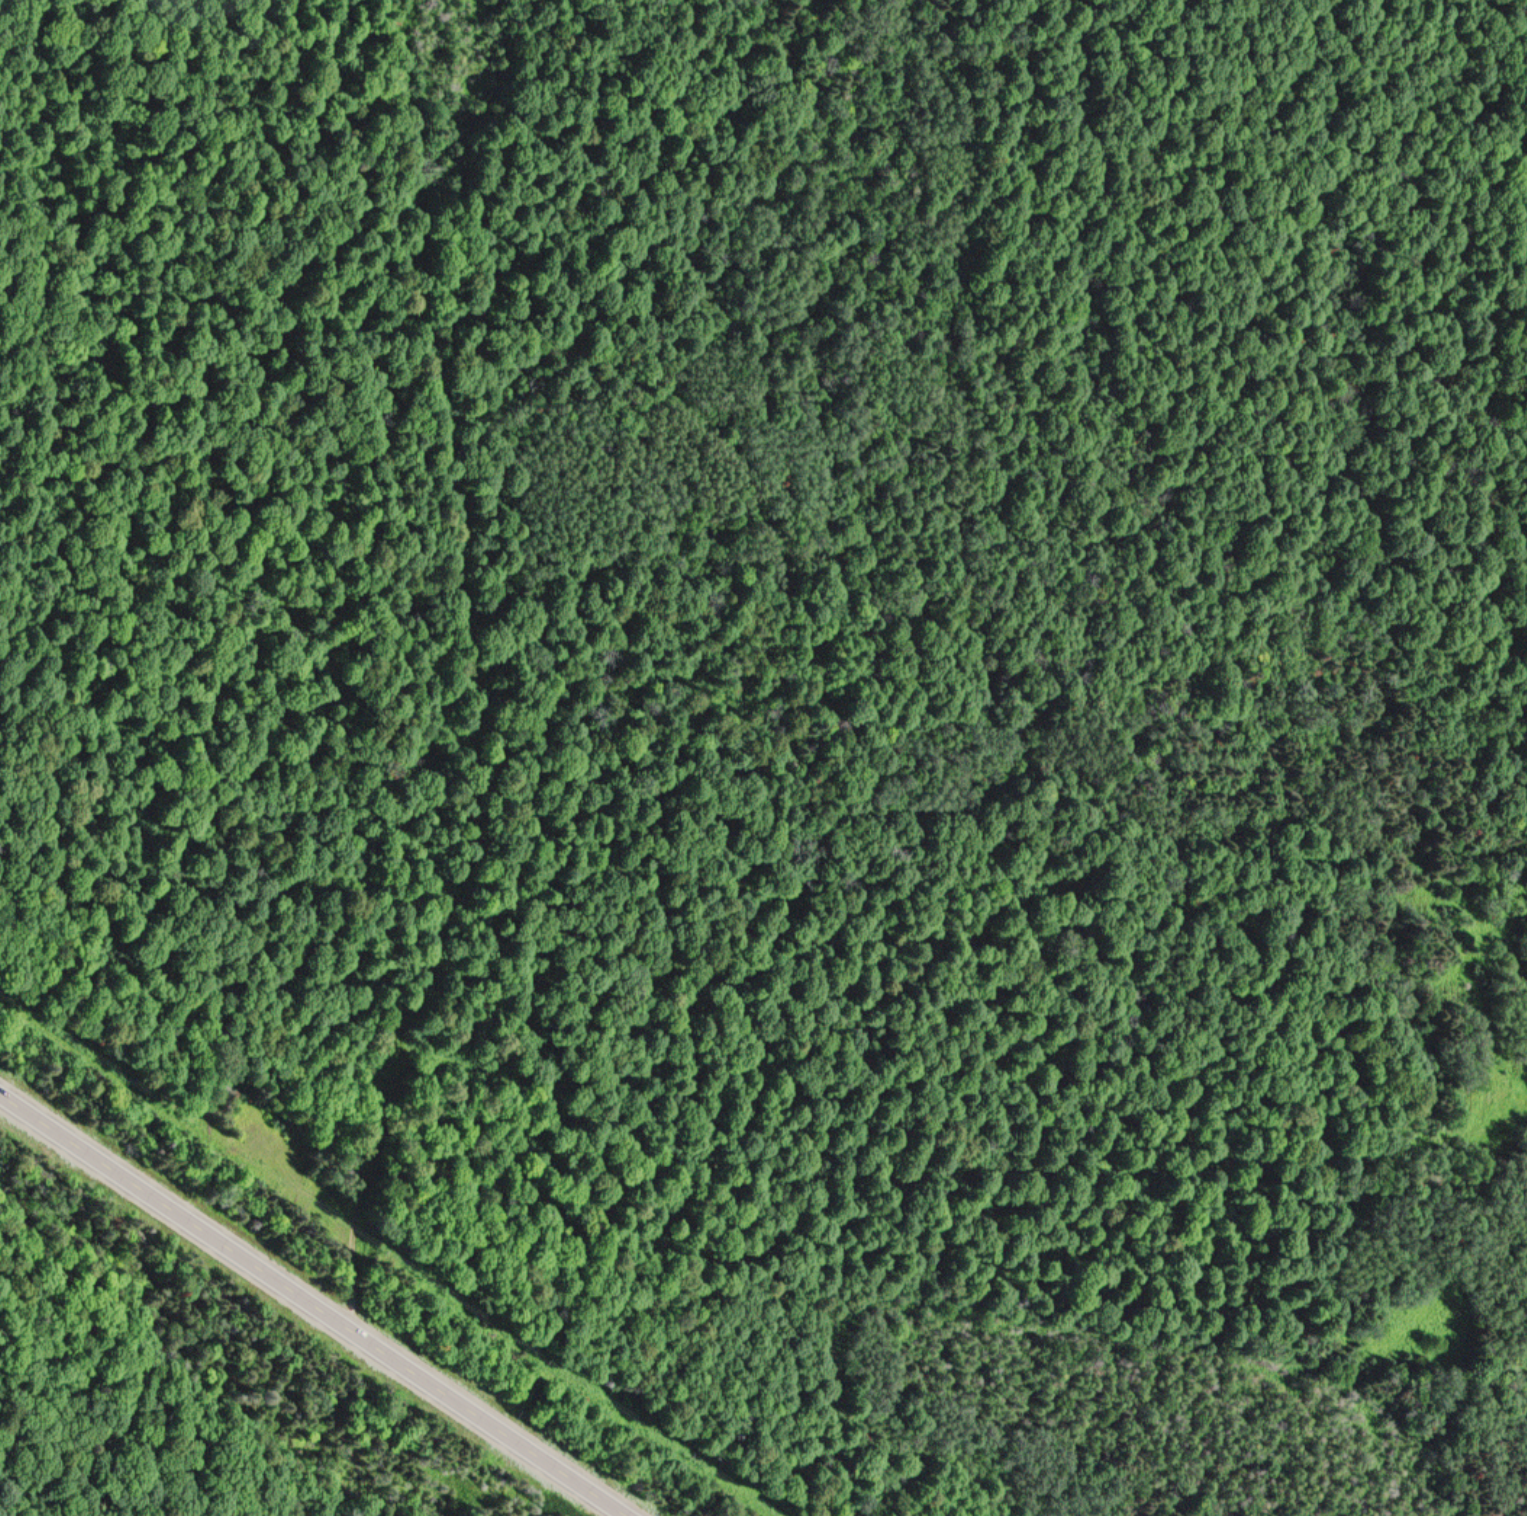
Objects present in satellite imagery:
road: (313, 1305)

